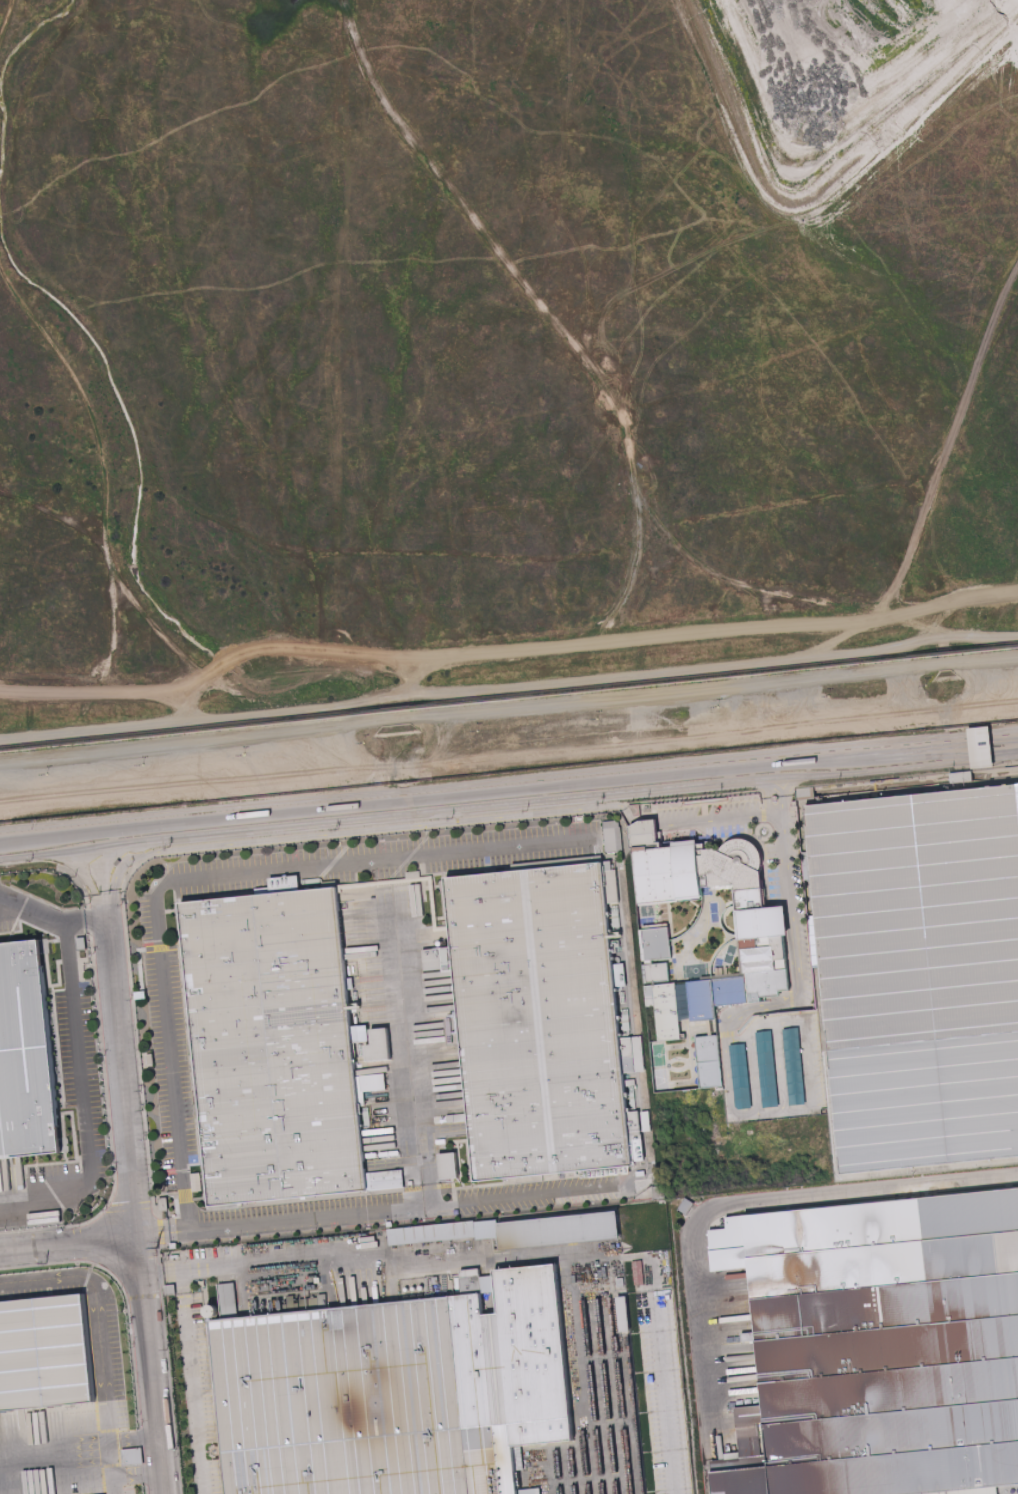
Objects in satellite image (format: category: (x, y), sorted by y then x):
road: (8, 22)
road: (588, 194)
road: (804, 286)
road: (537, 307)
road: (949, 441)
road: (100, 464)
road: (750, 590)
road: (505, 648)
road: (509, 686)
road: (508, 704)
road: (509, 758)
road: (889, 758)
road: (775, 789)
road: (380, 808)
road: (626, 812)
road: (721, 816)
parking lot: (708, 818)
road: (346, 831)
building: (611, 839)
building: (808, 848)
parking lot: (371, 857)
road: (101, 868)
road: (203, 877)
parking lot: (789, 891)
building: (812, 895)
road: (32, 909)
road: (86, 922)
building: (82, 943)
road: (796, 954)
building: (819, 958)
building: (921, 970)
building: (824, 1005)
building: (543, 1019)
road: (779, 1020)
building: (455, 1029)
road: (737, 1035)
building: (278, 1043)
parking lot: (166, 1047)
road: (410, 1052)
building: (25, 1056)
building: (151, 1058)
road: (813, 1062)
road: (782, 1065)
building: (794, 1066)
parking lot: (773, 1067)
road: (753, 1068)
building: (767, 1069)
road: (728, 1076)
building: (831, 1077)
building: (742, 1078)
building: (375, 1081)
road: (85, 1097)
building: (634, 1098)
road: (774, 1111)
building: (466, 1116)
parking lot: (63, 1121)
building: (838, 1147)
building: (623, 1174)
parking lot: (547, 1191)
building: (659, 1191)
road: (135, 1197)
building: (164, 1202)
building: (687, 1206)
road: (401, 1208)
road: (715, 1209)
parking lot: (300, 1215)
building: (507, 1225)
building: (437, 1231)
road: (163, 1234)
building: (231, 1241)
road: (69, 1244)
power tower: (157, 1245)
building: (175, 1245)
road: (397, 1259)
power tower: (46, 1261)
building: (436, 1279)
building: (171, 1289)
building: (228, 1297)
building: (298, 1304)
road: (98, 1313)
parking lot: (94, 1334)
building: (884, 1347)
building: (46, 1348)
power tower: (167, 1349)
road: (192, 1380)
road: (660, 1381)
parking lot: (663, 1392)
parking lot: (207, 1394)
building: (360, 1398)
power tower: (175, 1448)
building: (132, 1457)
parking lot: (136, 1493)

